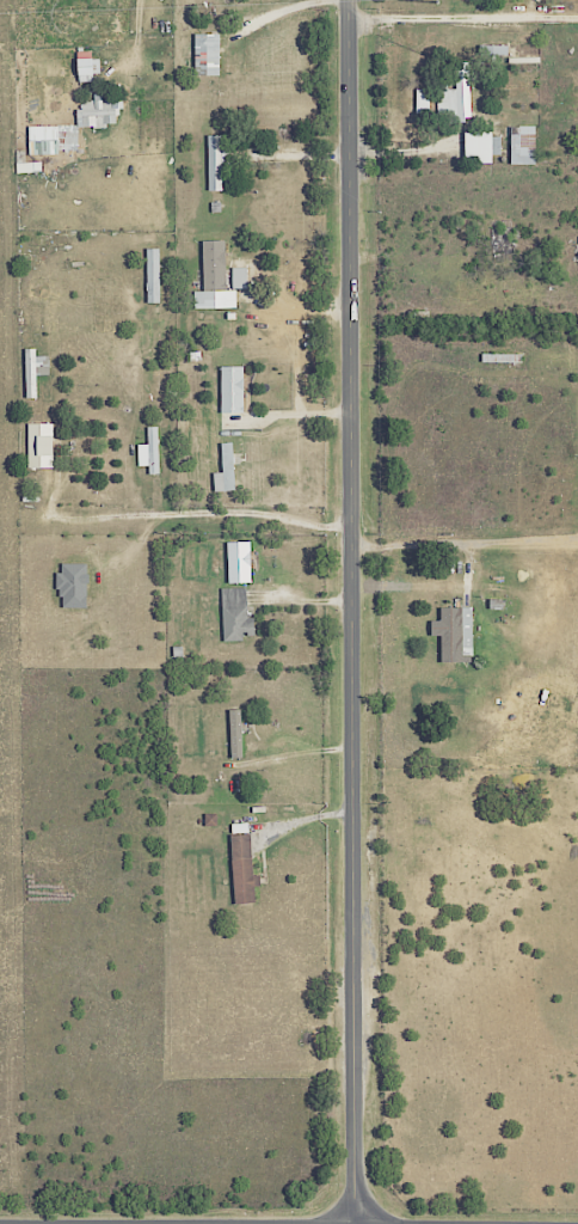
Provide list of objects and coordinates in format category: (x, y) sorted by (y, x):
power tower: (435, 1)
road: (285, 10)
road: (463, 19)
road: (134, 36)
building: (205, 54)
building: (86, 68)
building: (455, 96)
building: (420, 100)
building: (97, 112)
building: (51, 139)
building: (522, 145)
building: (480, 147)
road: (293, 157)
building: (214, 161)
building: (152, 275)
building: (238, 277)
building: (213, 279)
building: (32, 371)
building: (230, 388)
road: (299, 412)
building: (38, 445)
building: (148, 452)
building: (223, 469)
road: (187, 513)
road: (460, 541)
building: (238, 562)
building: (72, 586)
road: (349, 612)
building: (234, 614)
building: (455, 634)
building: (234, 733)
building: (241, 869)

